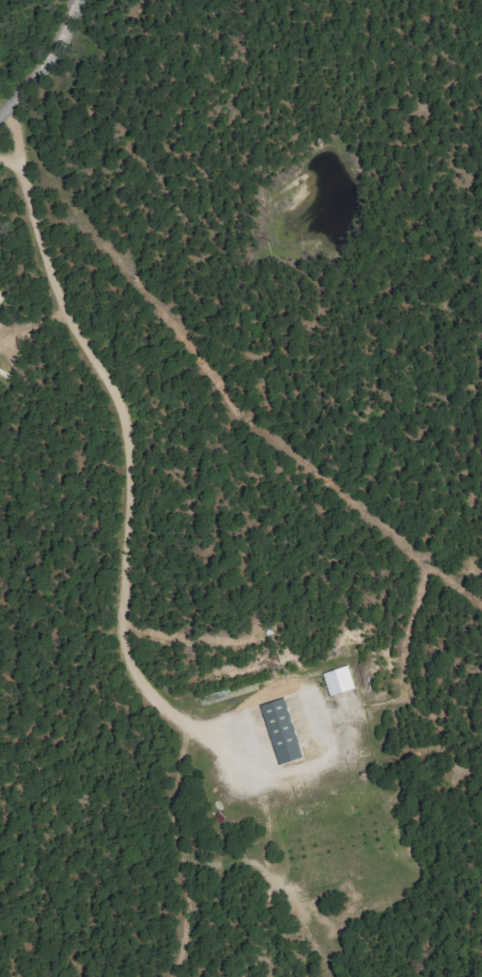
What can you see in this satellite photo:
road: (39, 57)
building: (1, 299)
road: (126, 439)
building: (343, 681)
building: (288, 732)

